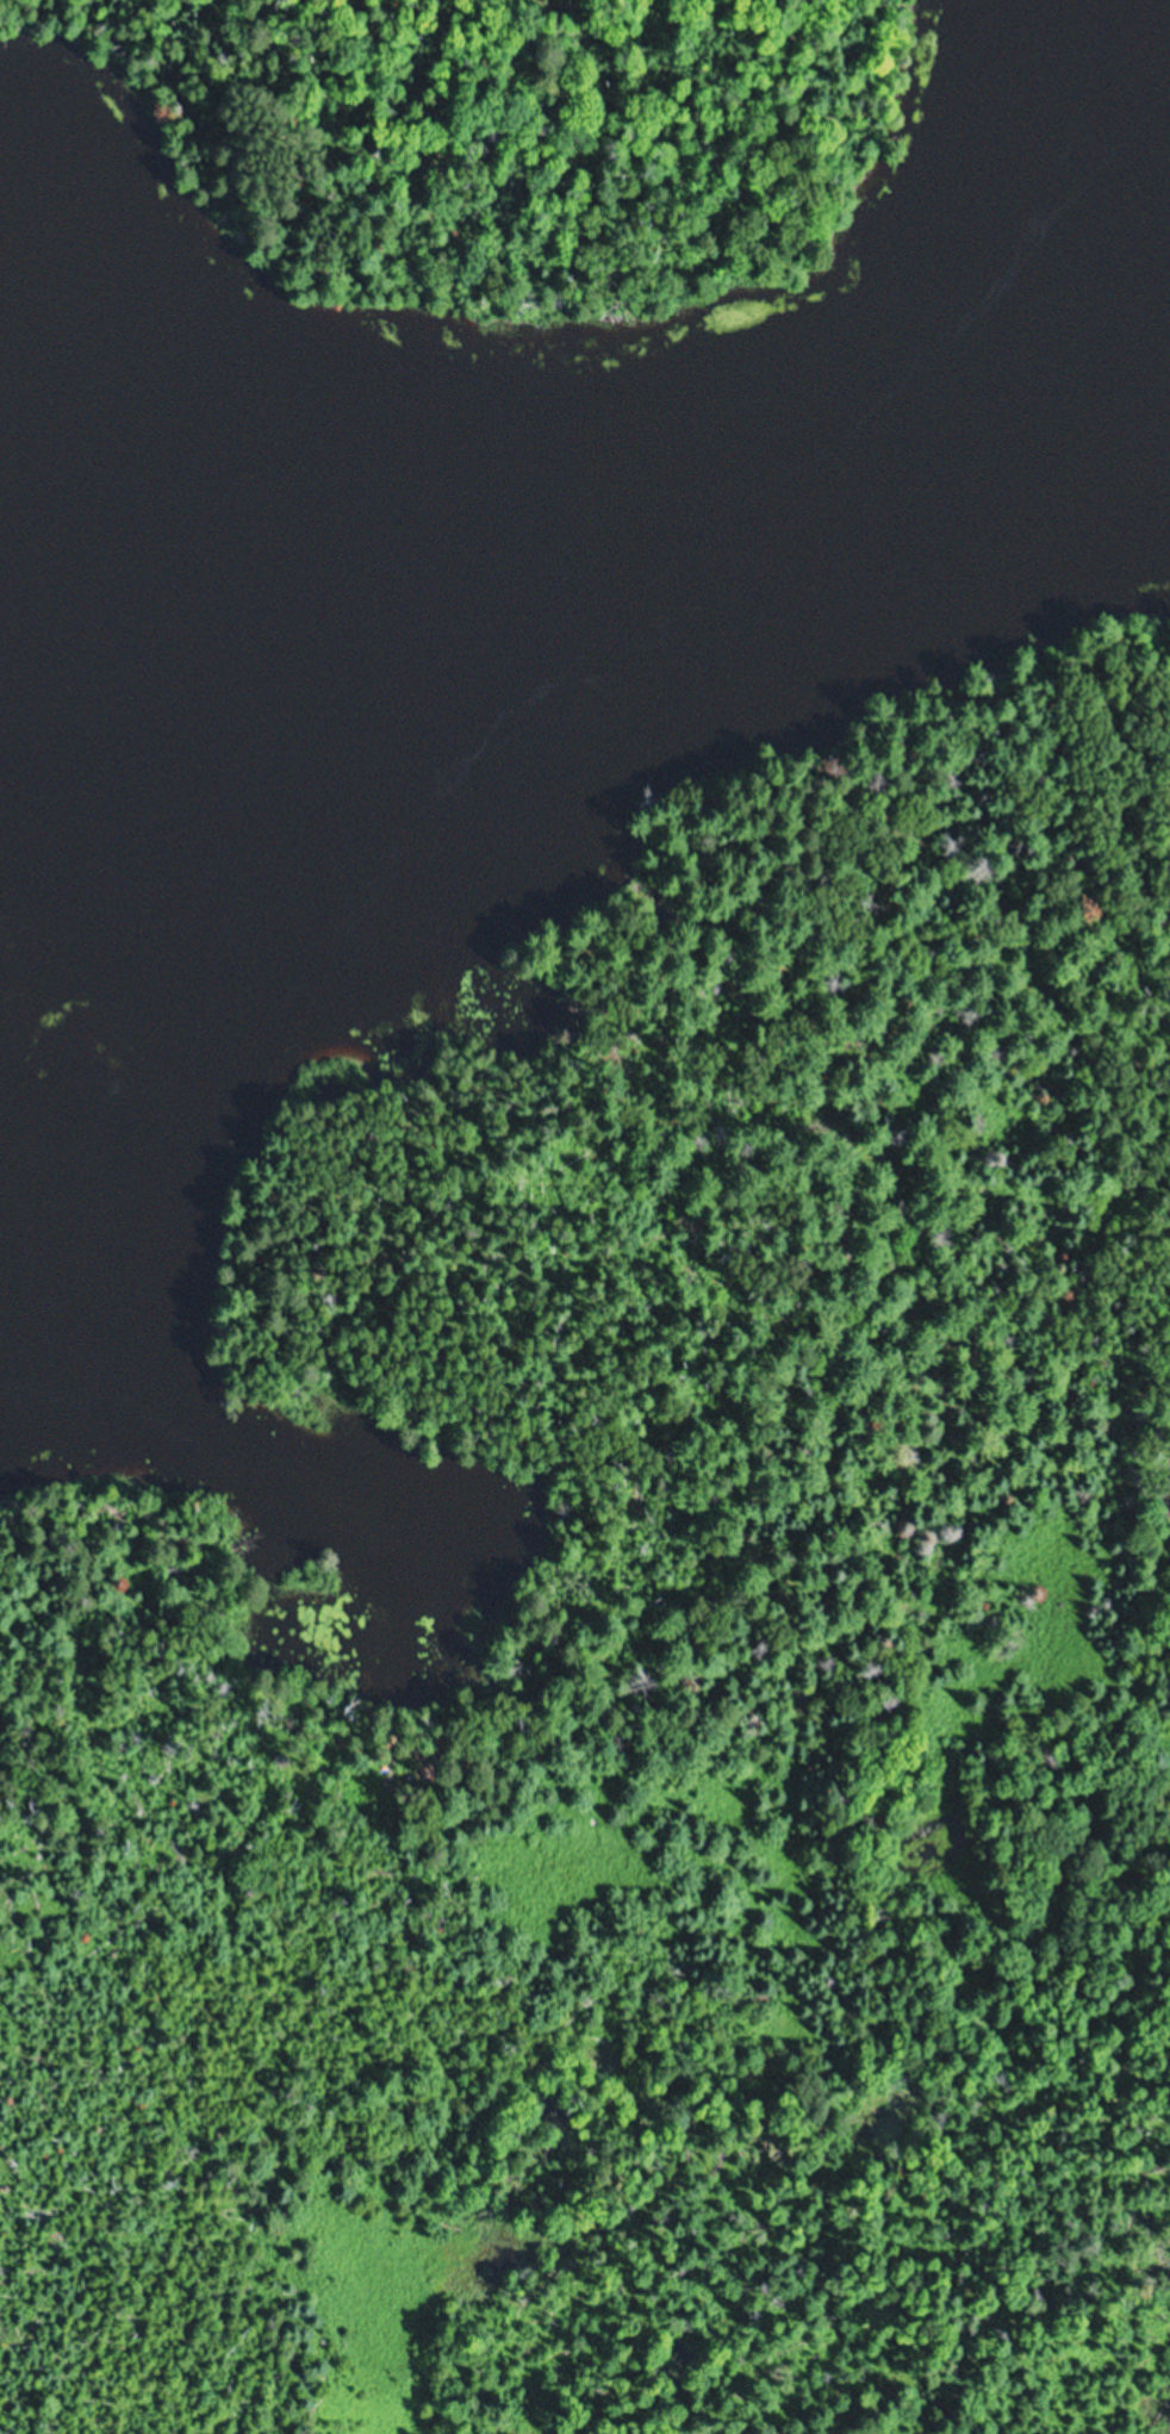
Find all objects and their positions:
river: (512, 623)

